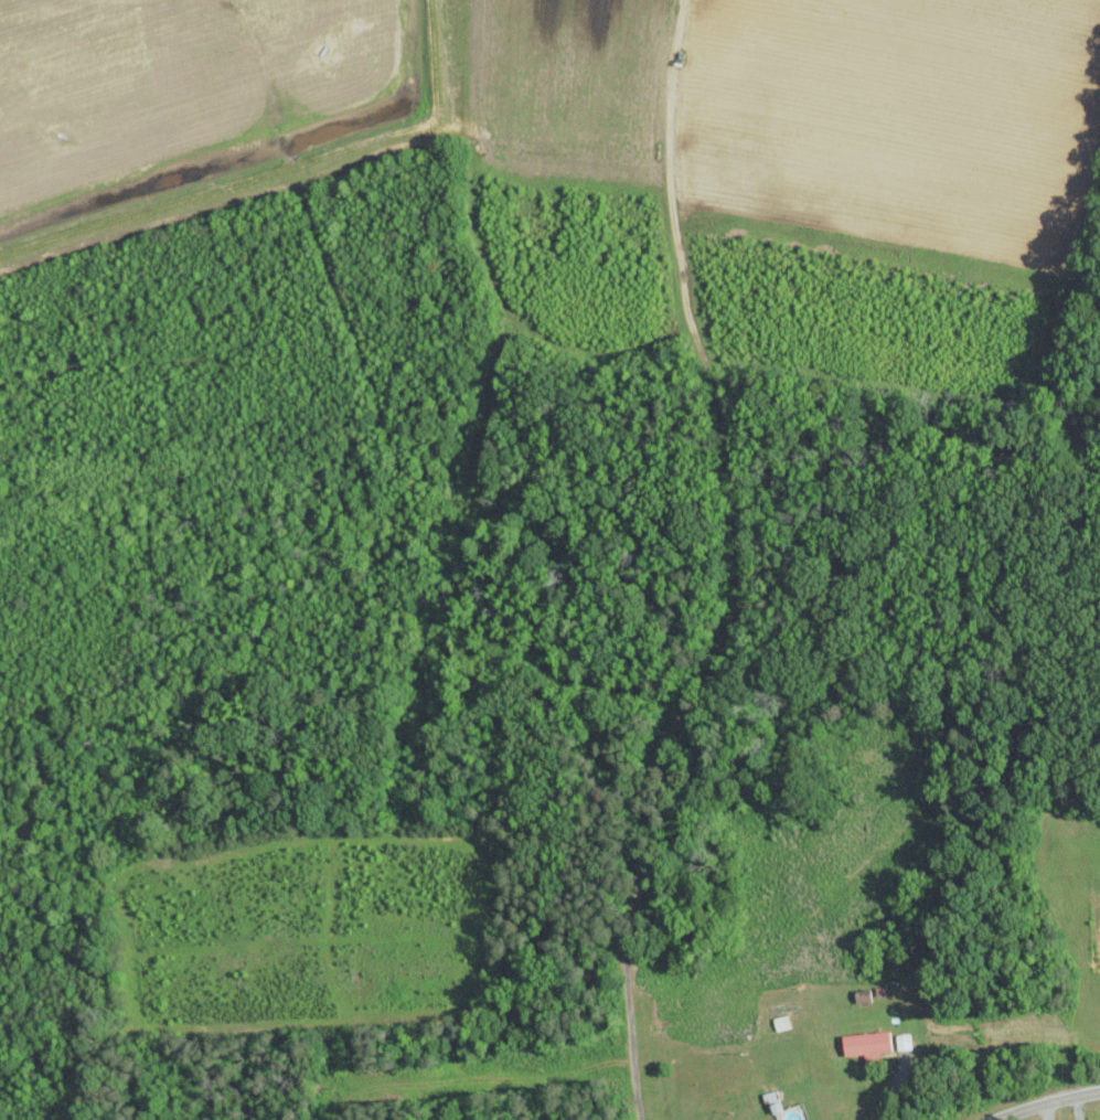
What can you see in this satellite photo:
road: (740, 567)
building: (905, 1041)
building: (871, 1043)
road: (895, 1087)
road: (1051, 1106)
road: (1079, 1109)
building: (788, 1111)
road: (1048, 1113)

